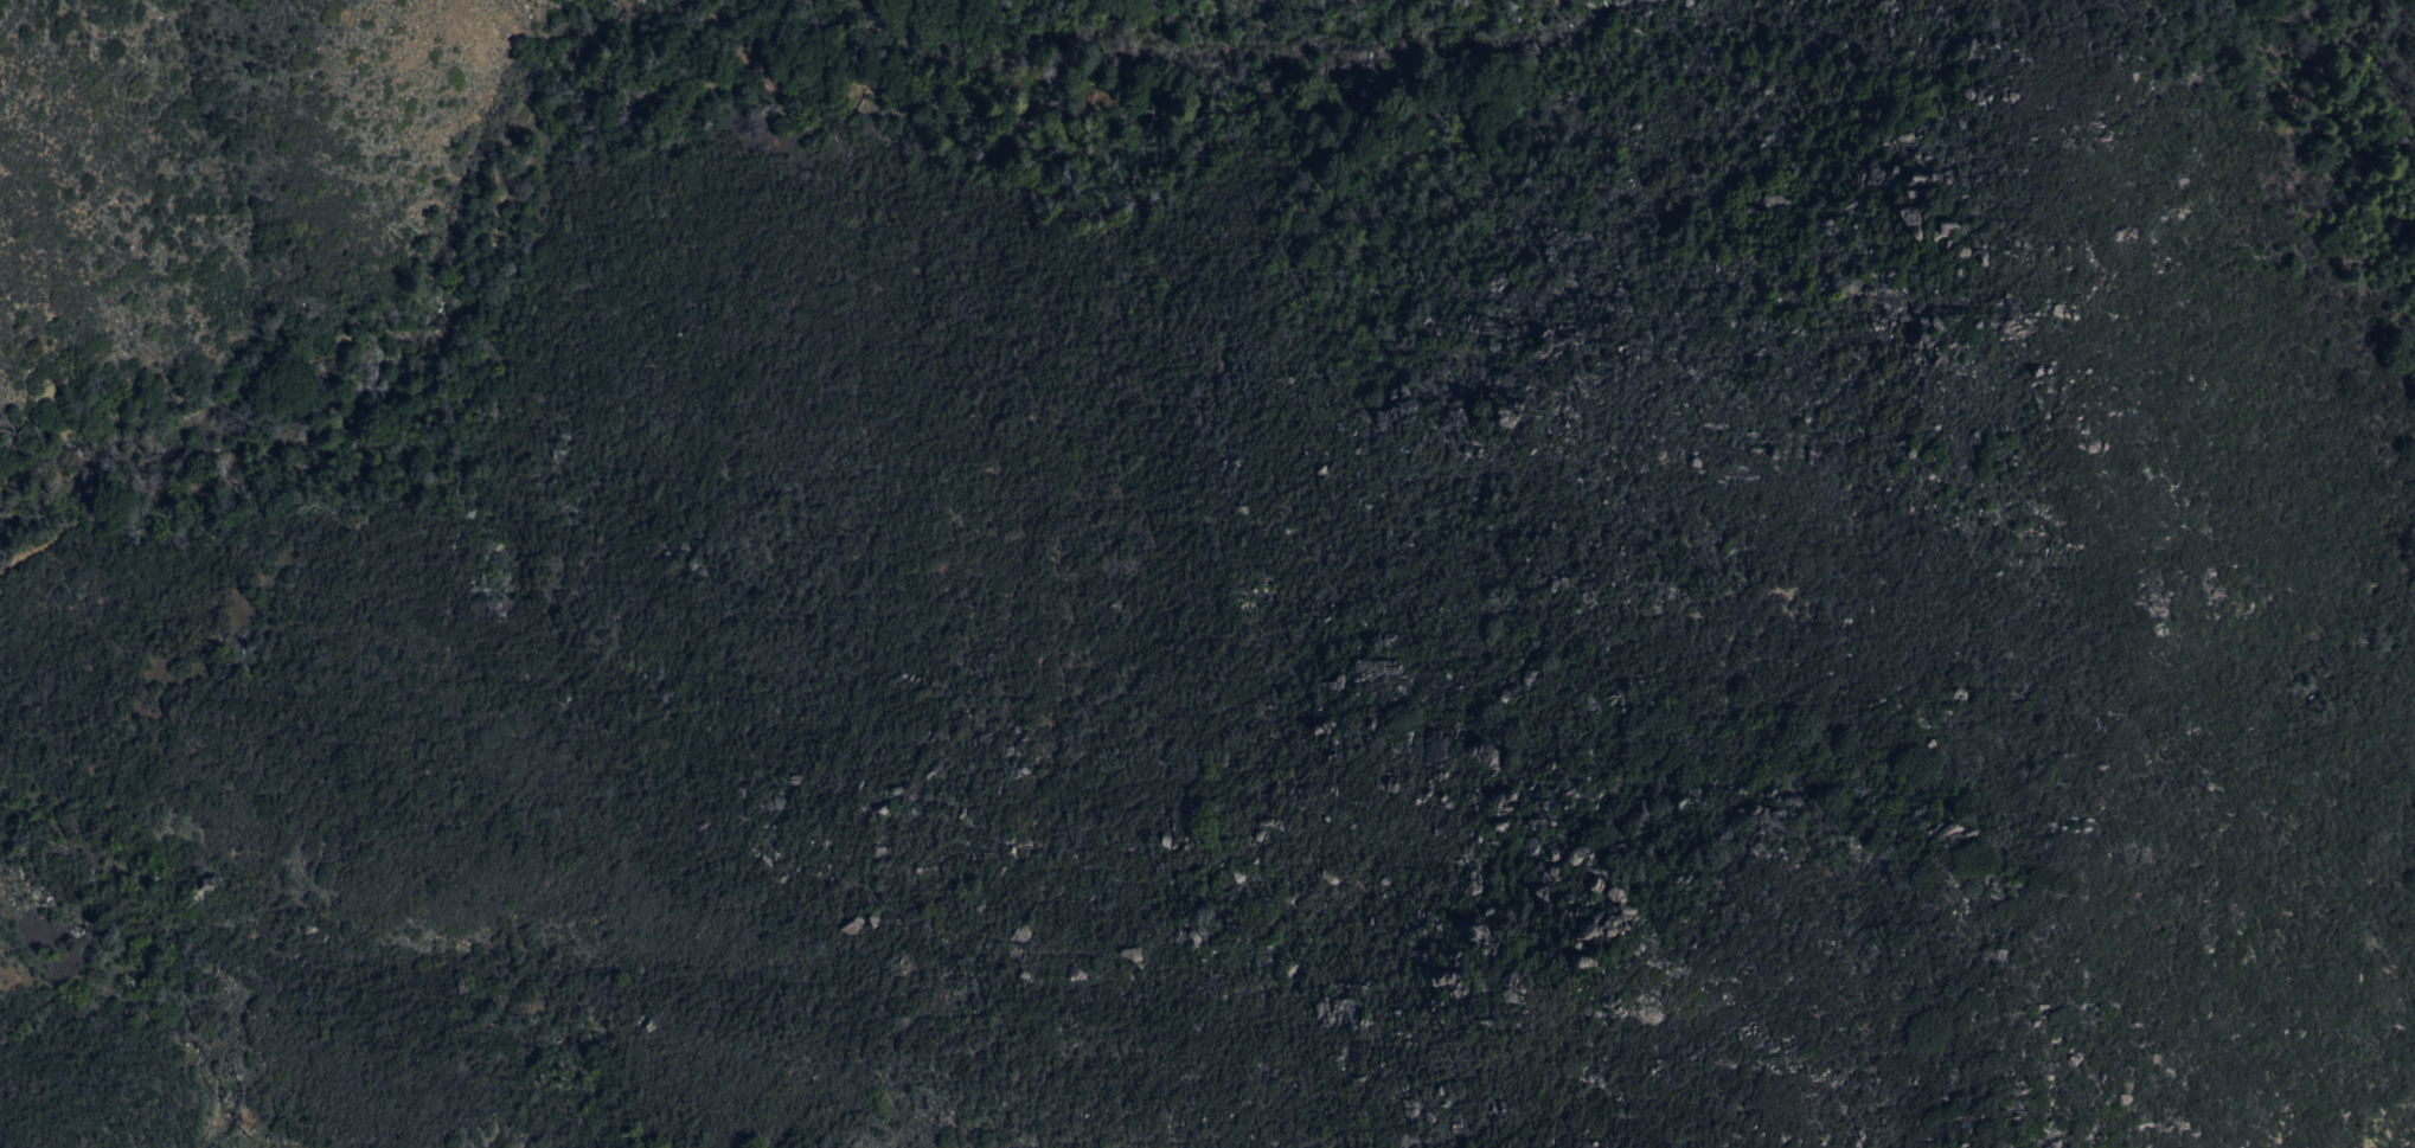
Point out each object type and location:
road: (472, 287)

